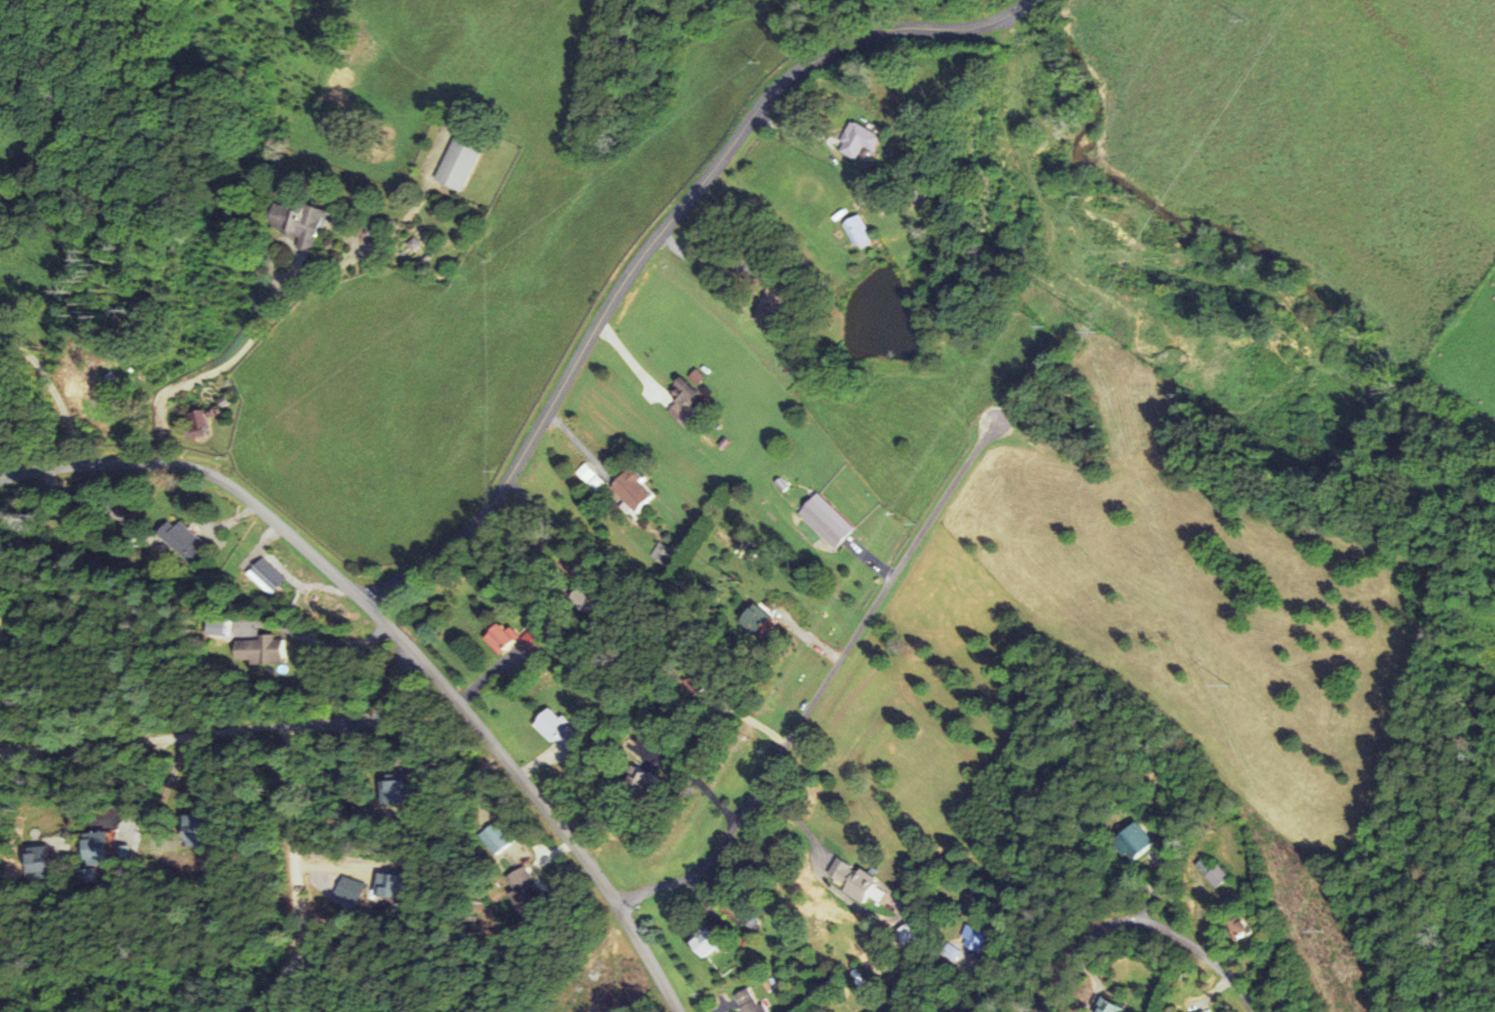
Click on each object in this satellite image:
building: (857, 140)
building: (457, 164)
building: (295, 223)
building: (857, 231)
road: (661, 233)
power tower: (1096, 332)
building: (681, 401)
building: (197, 423)
building: (592, 477)
building: (632, 489)
building: (824, 520)
building: (182, 539)
building: (663, 554)
building: (266, 576)
building: (756, 619)
building: (500, 637)
road: (400, 638)
building: (259, 650)
road: (824, 683)
power tower: (1229, 685)
building: (552, 727)
road: (226, 739)
building: (636, 780)
building: (393, 789)
building: (190, 830)
building: (1132, 841)
building: (95, 849)
building: (122, 853)
building: (38, 860)
building: (91, 875)
building: (1215, 875)
road: (308, 878)
building: (853, 881)
building: (386, 885)
building: (522, 886)
building: (350, 889)
road: (1143, 926)
building: (1236, 927)
power tower: (1321, 930)
building: (974, 938)
building: (697, 943)
building: (744, 1002)
building: (1107, 1007)
building: (1208, 1011)

